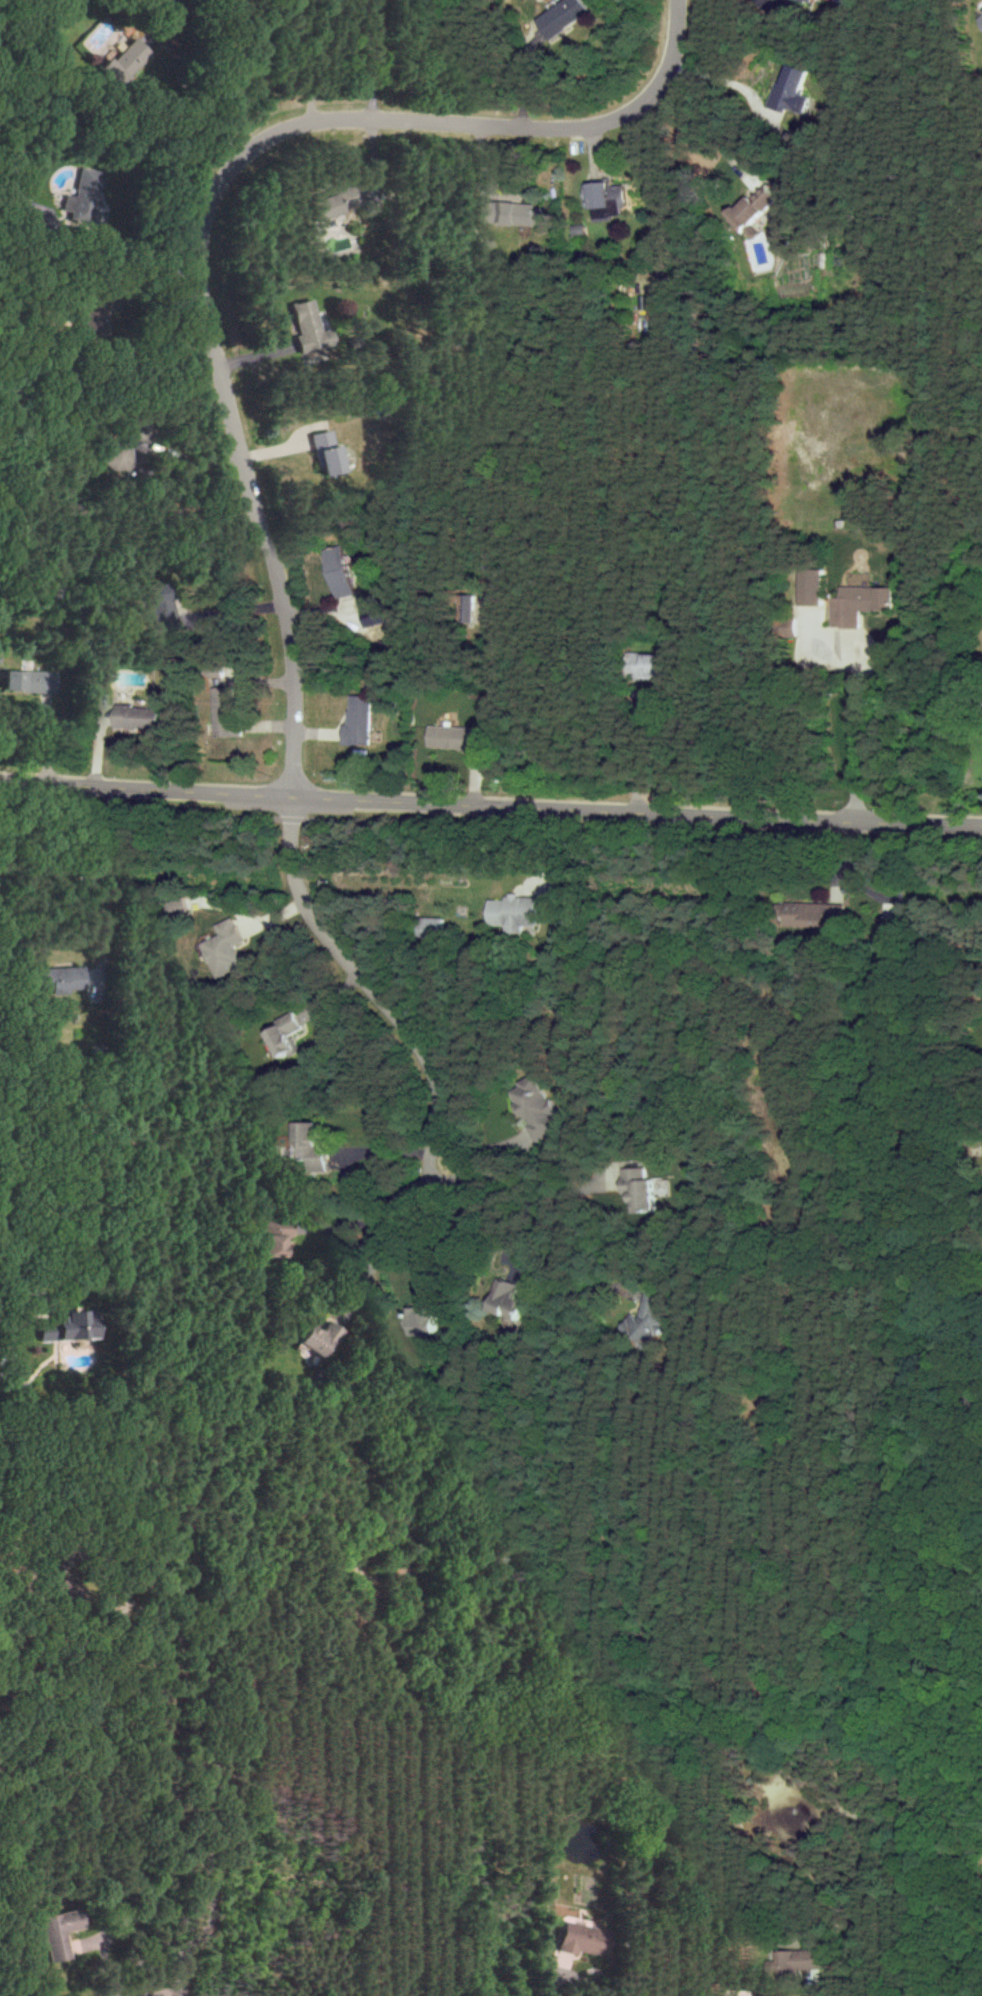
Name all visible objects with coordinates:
building: (804, 1)
building: (560, 16)
building: (979, 18)
road: (372, 60)
building: (121, 61)
building: (787, 91)
road: (193, 104)
road: (700, 132)
building: (82, 195)
building: (600, 199)
building: (21, 207)
building: (319, 207)
building: (747, 208)
building: (505, 213)
road: (210, 218)
road: (144, 262)
building: (107, 316)
building: (307, 328)
building: (122, 448)
building: (323, 453)
building: (335, 571)
building: (808, 587)
building: (855, 604)
building: (160, 605)
building: (462, 608)
building: (783, 626)
building: (645, 666)
building: (26, 681)
building: (221, 711)
building: (132, 717)
building: (354, 721)
road: (854, 733)
building: (449, 737)
road: (490, 805)
road: (493, 826)
building: (176, 908)
building: (511, 912)
building: (810, 915)
building: (428, 928)
building: (222, 949)
building: (55, 980)
road: (363, 983)
building: (283, 1033)
building: (534, 1109)
building: (309, 1146)
building: (635, 1188)
road: (377, 1221)
road: (544, 1223)
building: (274, 1237)
building: (507, 1302)
road: (2, 1312)
building: (424, 1321)
building: (637, 1325)
building: (66, 1327)
building: (320, 1339)
road: (213, 1696)
road: (130, 1918)
building: (56, 1933)
building: (579, 1939)
building: (794, 1961)

